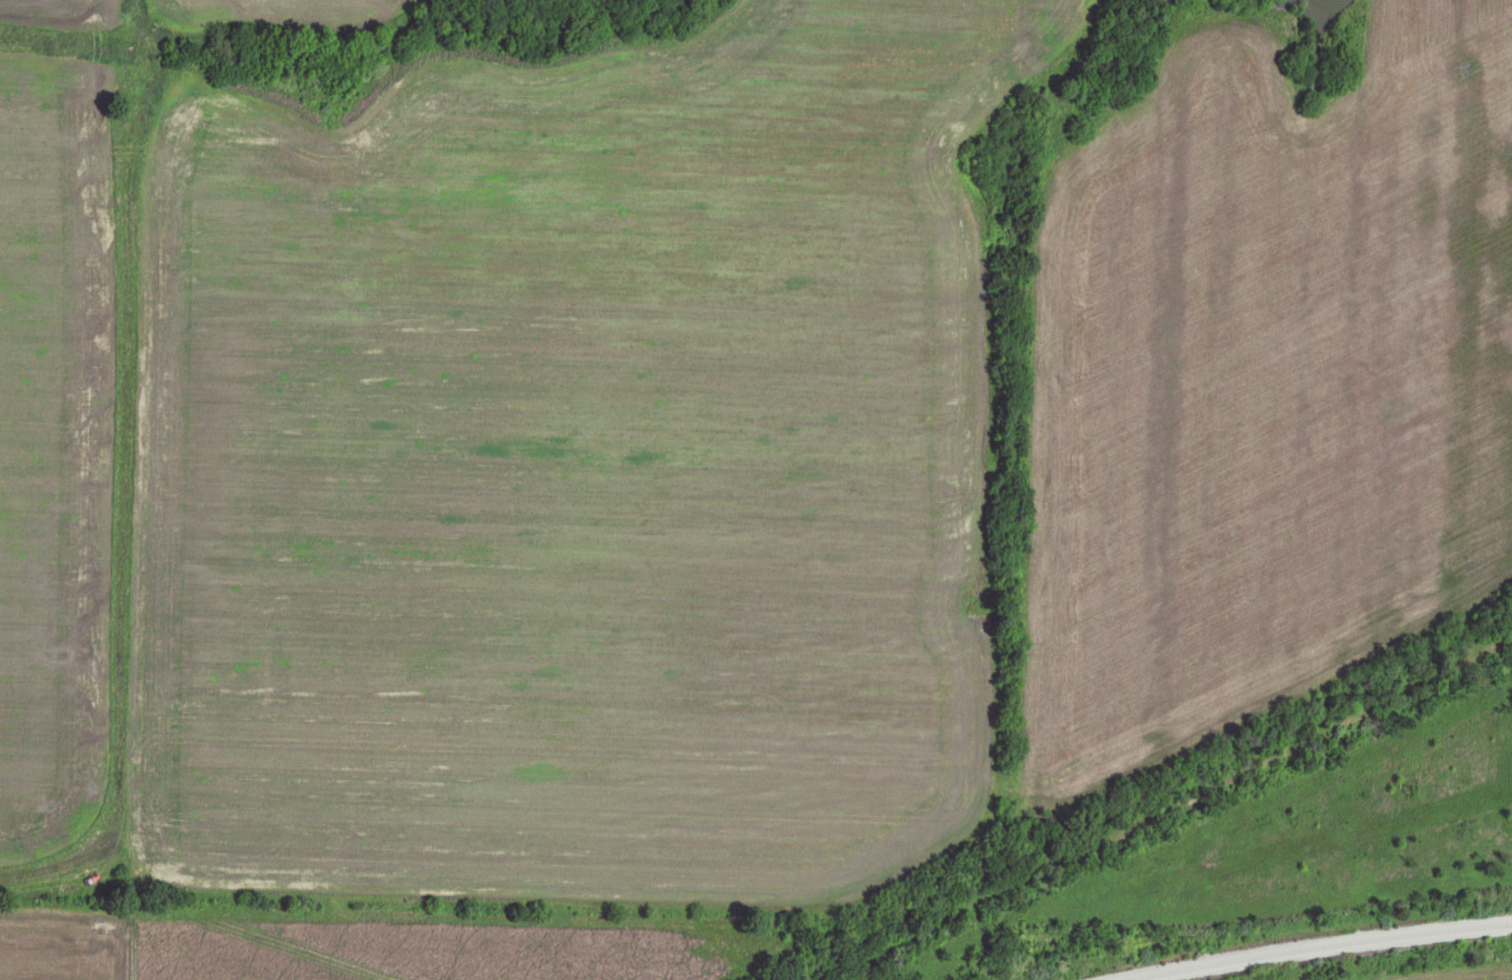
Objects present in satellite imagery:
railway: (1288, 939)

